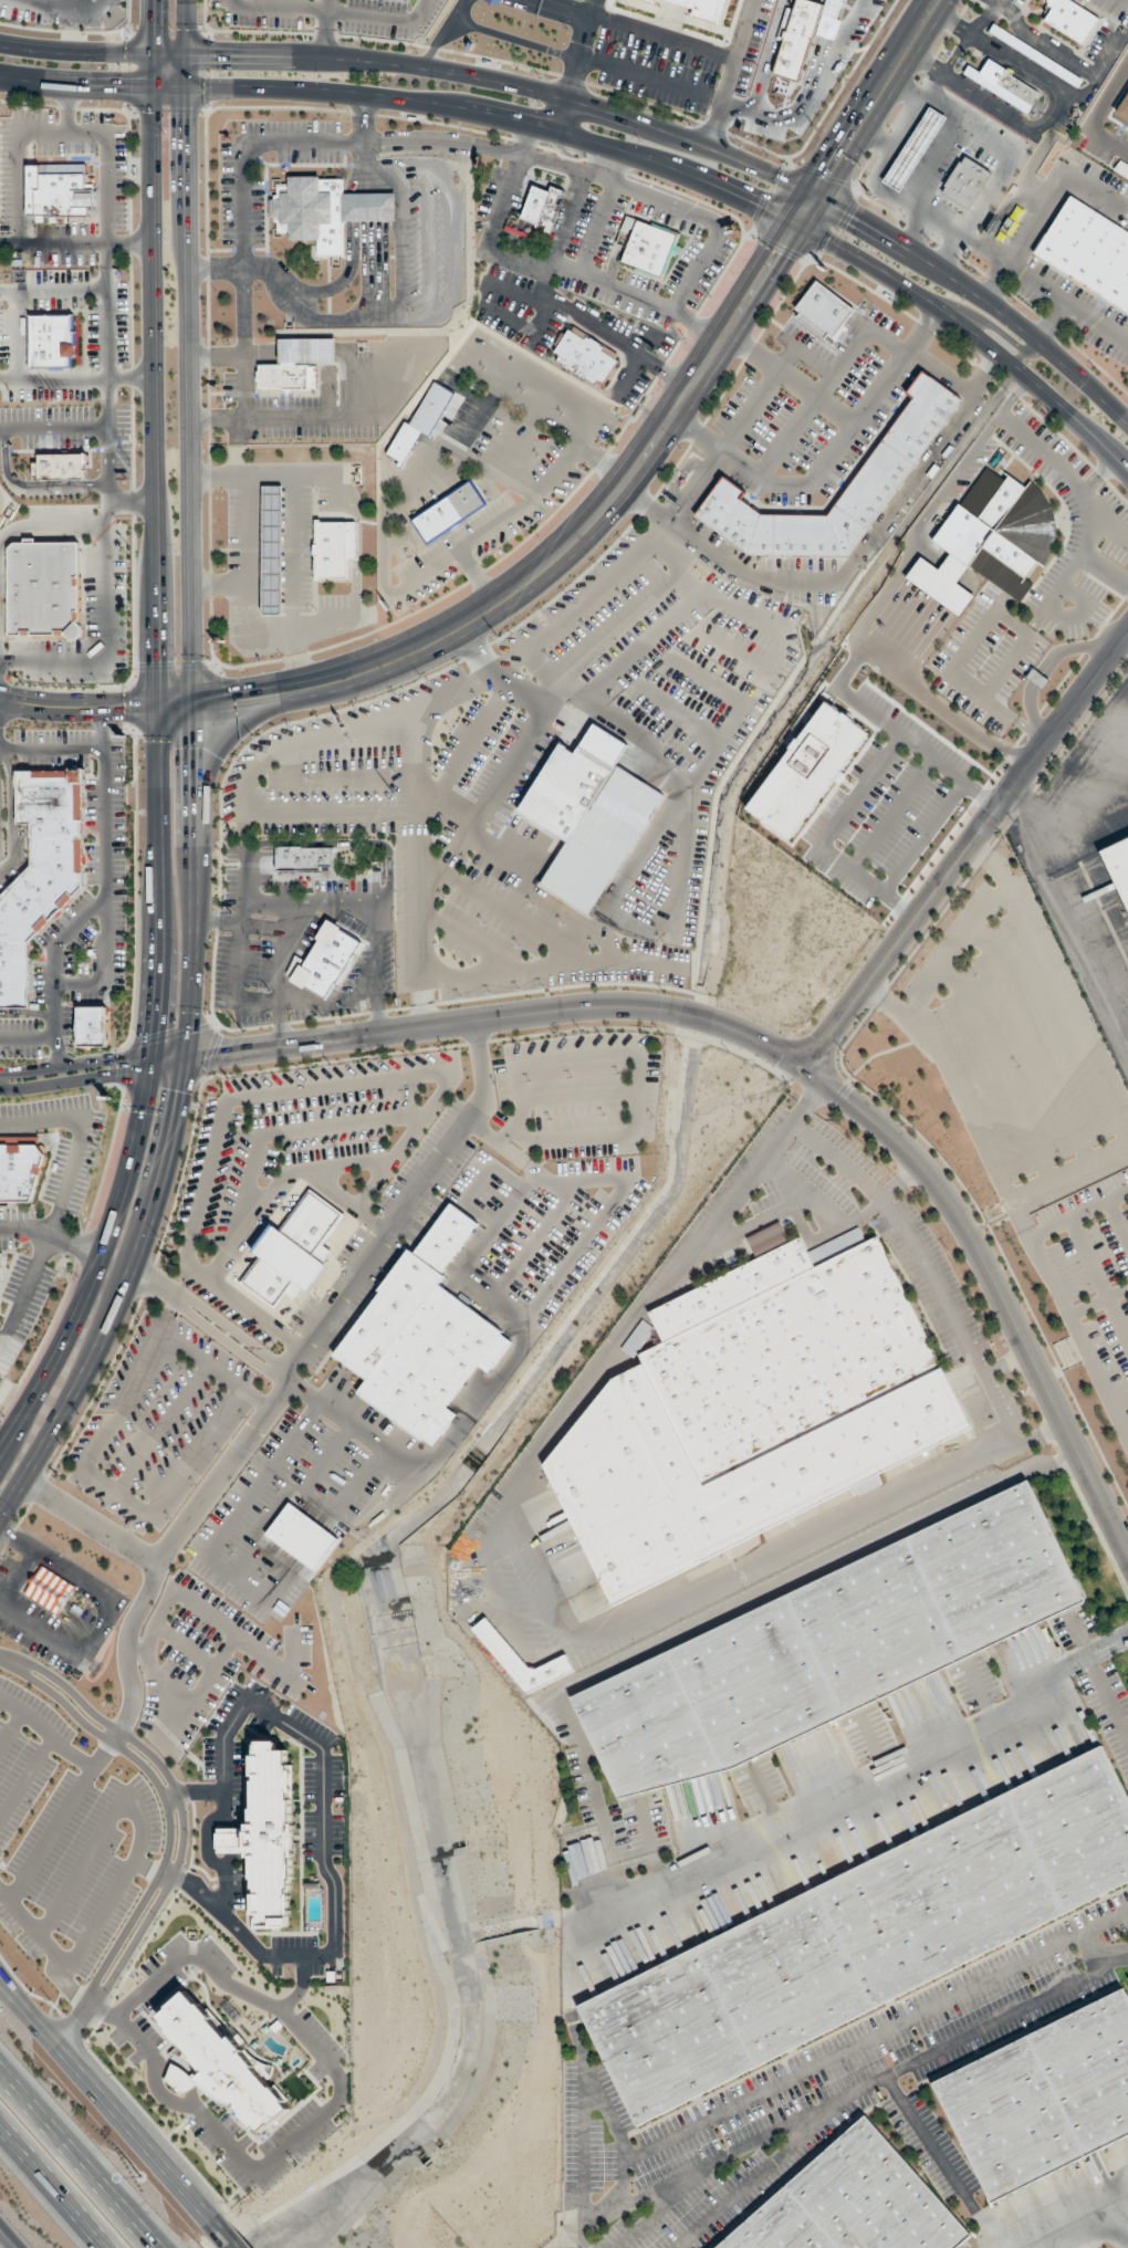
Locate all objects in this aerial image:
building: (651, 0)
building: (493, 1)
road: (76, 2)
road: (564, 8)
road: (592, 8)
building: (706, 8)
road: (332, 11)
building: (1068, 19)
traffic signals: (152, 22)
road: (325, 28)
road: (744, 31)
road: (441, 32)
road: (514, 40)
road: (703, 48)
traffic signals: (213, 54)
building: (1033, 55)
road: (578, 56)
road: (649, 79)
building: (1001, 84)
traffic signals: (119, 86)
road: (67, 108)
road: (607, 111)
road: (564, 116)
traffic signals: (186, 118)
power tower: (815, 128)
road: (522, 140)
road: (19, 143)
road: (609, 146)
building: (915, 149)
road: (605, 163)
traffic signals: (832, 170)
building: (965, 181)
building: (59, 189)
traffic signals: (754, 203)
building: (543, 206)
building: (368, 207)
building: (310, 210)
traffic signals: (853, 216)
road: (566, 217)
building: (518, 230)
road: (716, 234)
road: (75, 242)
building: (651, 248)
building: (1086, 250)
traffic signals: (776, 254)
road: (241, 258)
road: (215, 264)
road: (52, 290)
power tower: (709, 295)
building: (823, 310)
road: (699, 324)
road: (106, 331)
road: (20, 334)
building: (52, 339)
road: (1022, 351)
road: (216, 353)
road: (150, 354)
road: (188, 354)
building: (586, 355)
building: (295, 363)
road: (75, 378)
road: (791, 379)
road: (216, 419)
road: (53, 428)
building: (906, 437)
building: (403, 442)
power tower: (616, 443)
road: (723, 447)
road: (237, 448)
road: (647, 454)
road: (827, 460)
building: (60, 466)
road: (31, 484)
road: (130, 504)
building: (447, 512)
road: (48, 526)
road: (291, 535)
building: (991, 540)
building: (333, 547)
building: (272, 548)
road: (850, 569)
road: (249, 573)
road: (219, 582)
building: (44, 588)
power tower: (495, 635)
road: (103, 645)
traffic signals: (153, 659)
building: (1036, 678)
traffic signals: (229, 704)
road: (75, 707)
traffic signals: (124, 708)
road: (171, 708)
road: (51, 749)
traffic signals: (192, 751)
road: (415, 760)
road: (477, 809)
road: (11, 813)
building: (587, 814)
power tower: (367, 836)
road: (965, 847)
building: (304, 858)
road: (104, 868)
building: (40, 869)
building: (1117, 869)
road: (672, 887)
road: (286, 901)
road: (219, 922)
road: (955, 952)
building: (326, 960)
road: (54, 973)
road: (1054, 990)
power tower: (269, 991)
road: (27, 1012)
building: (92, 1025)
traffic signals: (156, 1027)
power tower: (242, 1031)
road: (27, 1041)
road: (1033, 1044)
road: (770, 1046)
traffic signals: (222, 1053)
traffic signals: (111, 1066)
road: (75, 1068)
road: (998, 1073)
traffic signals: (182, 1094)
road: (144, 1095)
power tower: (202, 1107)
road: (174, 1131)
road: (81, 1139)
building: (20, 1168)
road: (1068, 1171)
road: (804, 1190)
road: (1012, 1201)
road: (1078, 1214)
road: (1118, 1221)
road: (853, 1222)
road: (751, 1224)
road: (51, 1236)
building: (293, 1253)
building: (1, 1266)
road: (157, 1280)
road: (1098, 1280)
road: (939, 1293)
road: (1097, 1301)
building: (420, 1335)
building: (638, 1338)
road: (1005, 1365)
road: (286, 1372)
road: (285, 1373)
building: (753, 1408)
power tower: (2, 1414)
road: (90, 1522)
road: (493, 1567)
building: (995, 1568)
building: (50, 1591)
road: (712, 1618)
building: (875, 1625)
road: (1107, 1645)
building: (520, 1660)
road: (1097, 1676)
building: (755, 1683)
road: (979, 1693)
building: (645, 1728)
road: (871, 1746)
road: (324, 1789)
road: (197, 1792)
road: (763, 1798)
road: (801, 1818)
road: (176, 1826)
building: (1076, 1827)
building: (272, 1833)
building: (232, 1839)
road: (649, 1842)
road: (577, 1880)
building: (939, 1900)
road: (1110, 1955)
building: (785, 1977)
road: (302, 1986)
building: (666, 2036)
road: (875, 2036)
building: (228, 2068)
building: (1089, 2069)
road: (857, 2087)
road: (341, 2088)
road: (103, 2101)
road: (605, 2106)
building: (1009, 2120)
road: (582, 2140)
road: (929, 2144)
road: (81, 2153)
road: (760, 2171)
road: (49, 2191)
building: (875, 2196)
road: (667, 2203)
building: (781, 2227)
road: (220, 2235)
road: (567, 2236)
road: (9, 2237)

